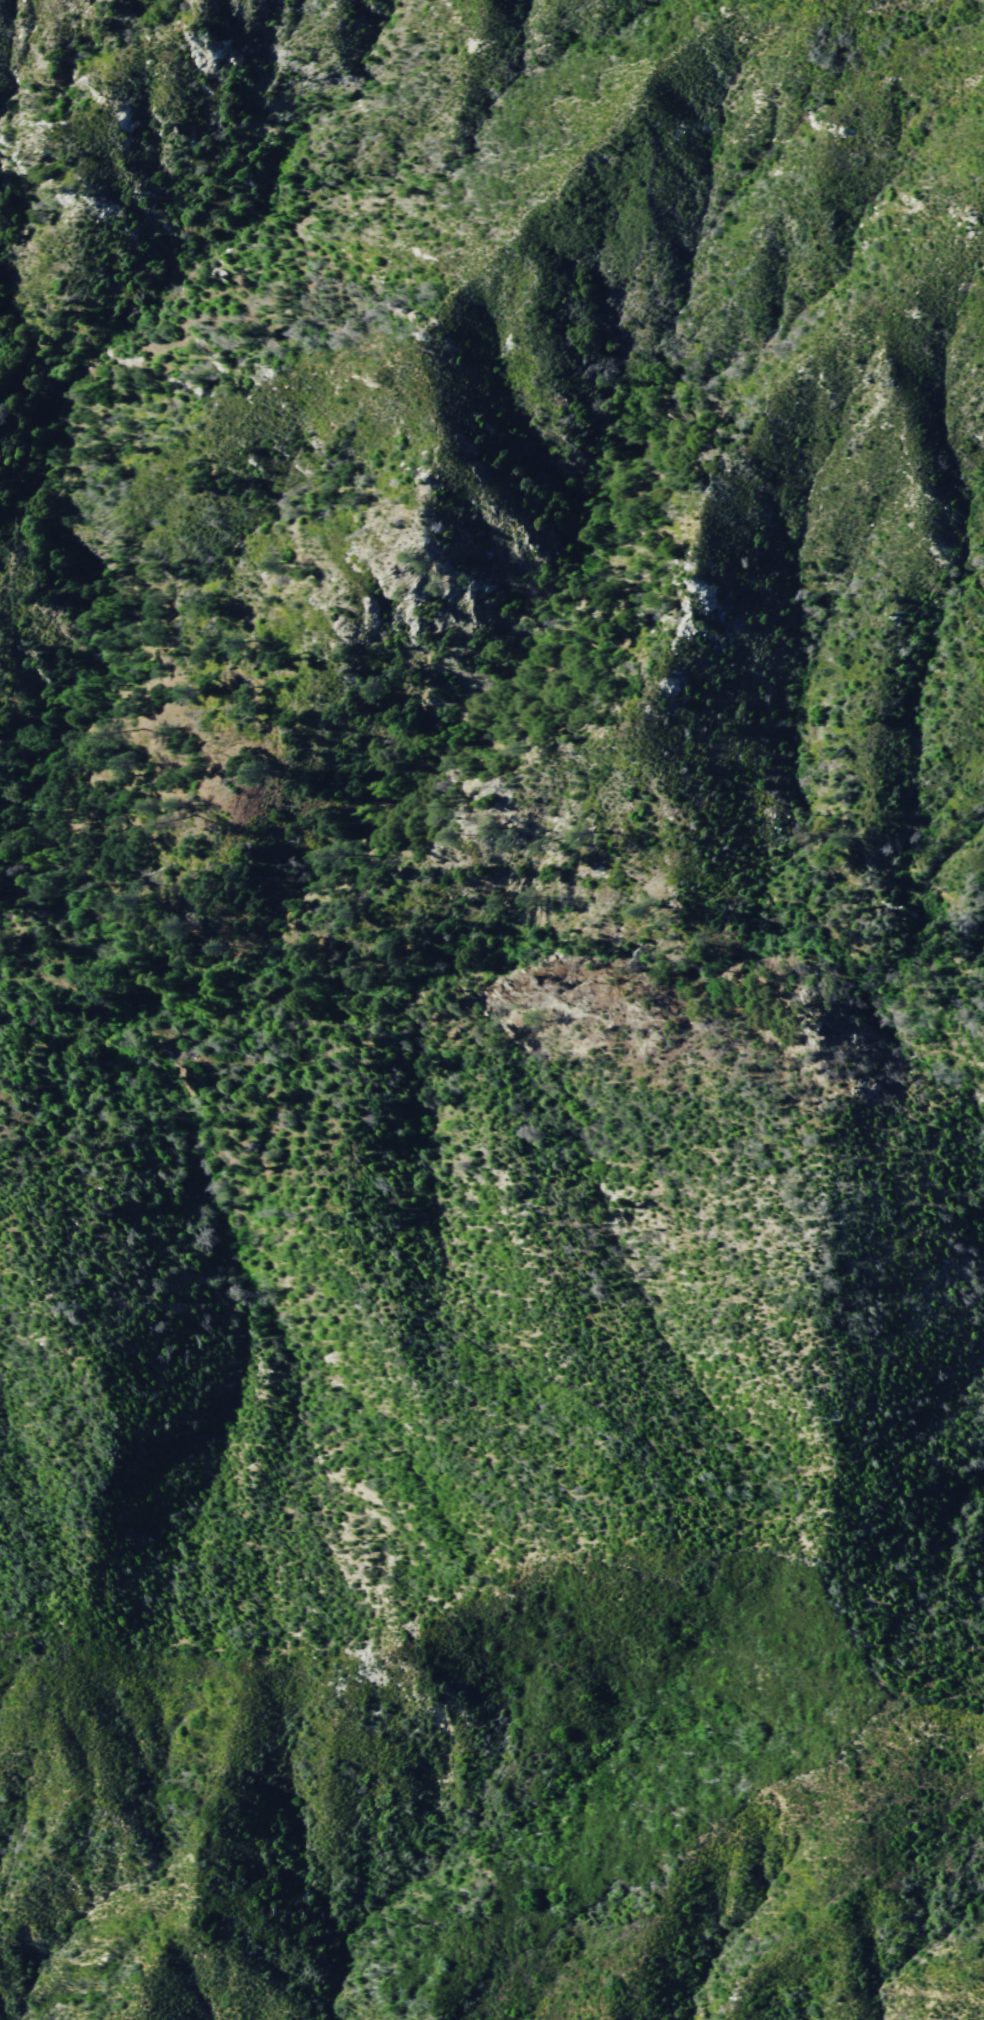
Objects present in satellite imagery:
road: (439, 846)

